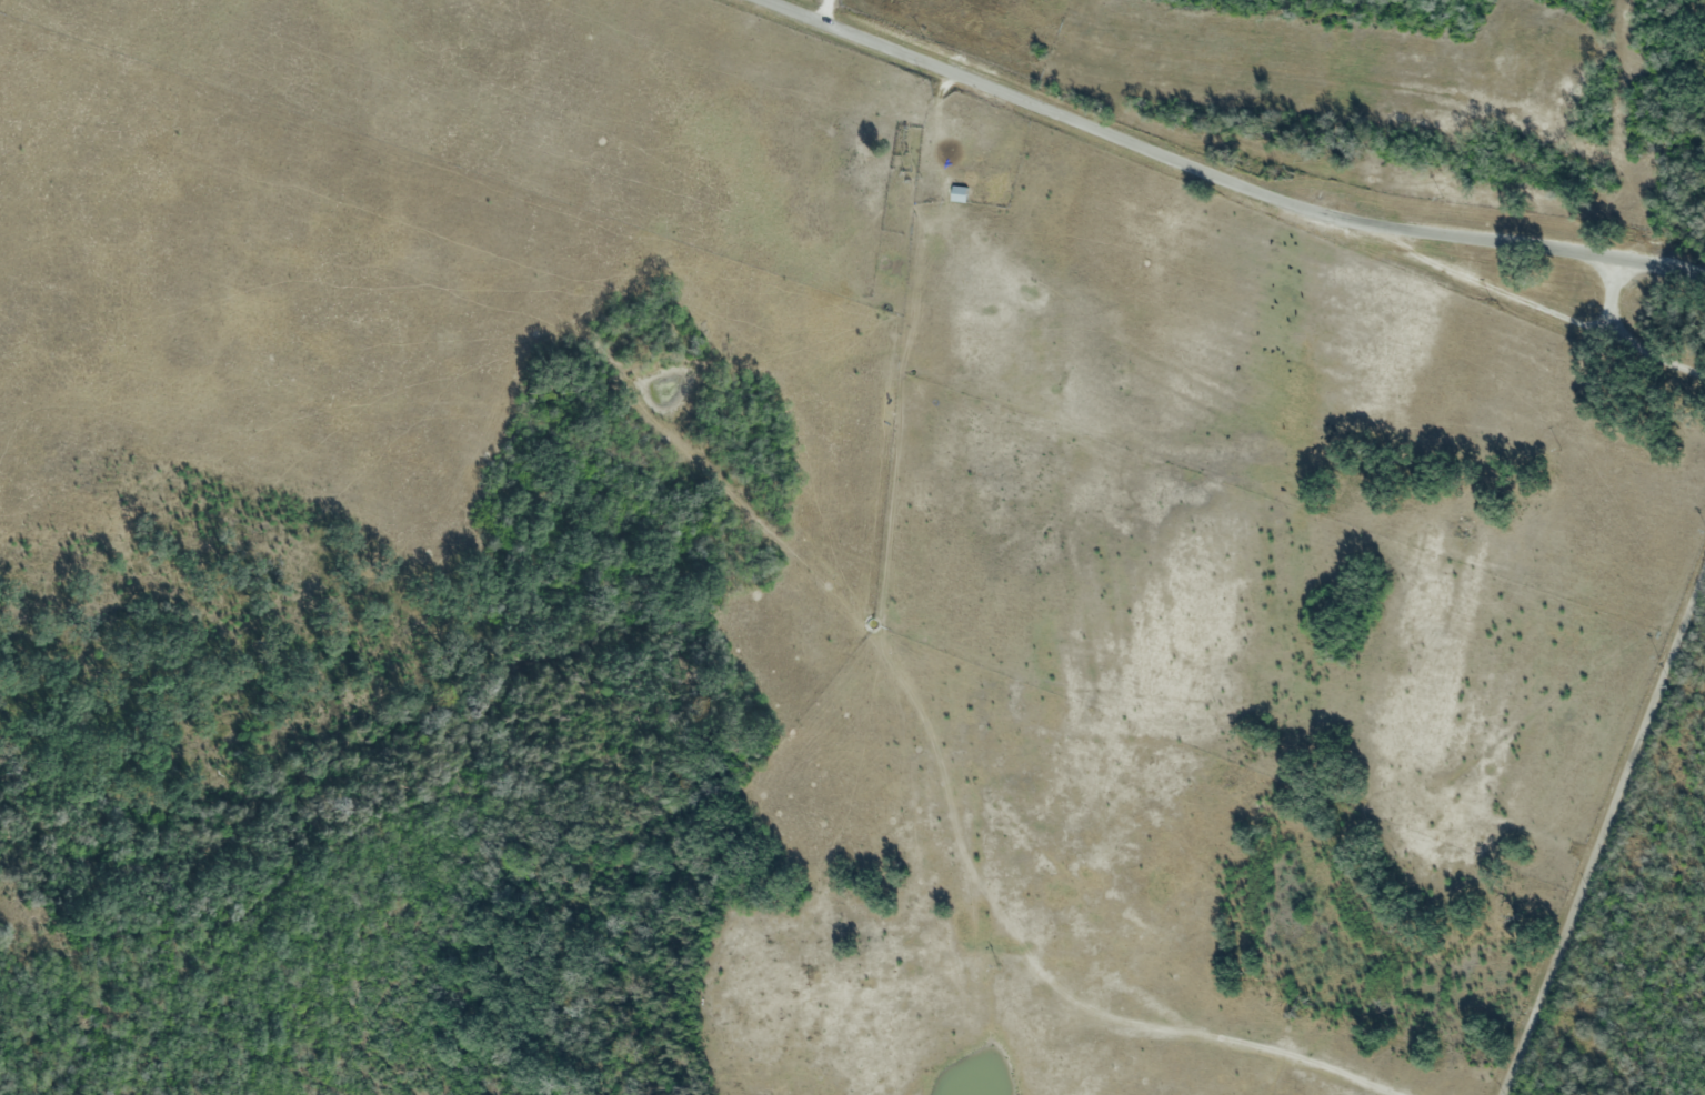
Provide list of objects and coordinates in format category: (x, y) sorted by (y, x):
road: (1208, 172)
building: (957, 194)
road: (1695, 268)
road: (1618, 335)
road: (1599, 824)

